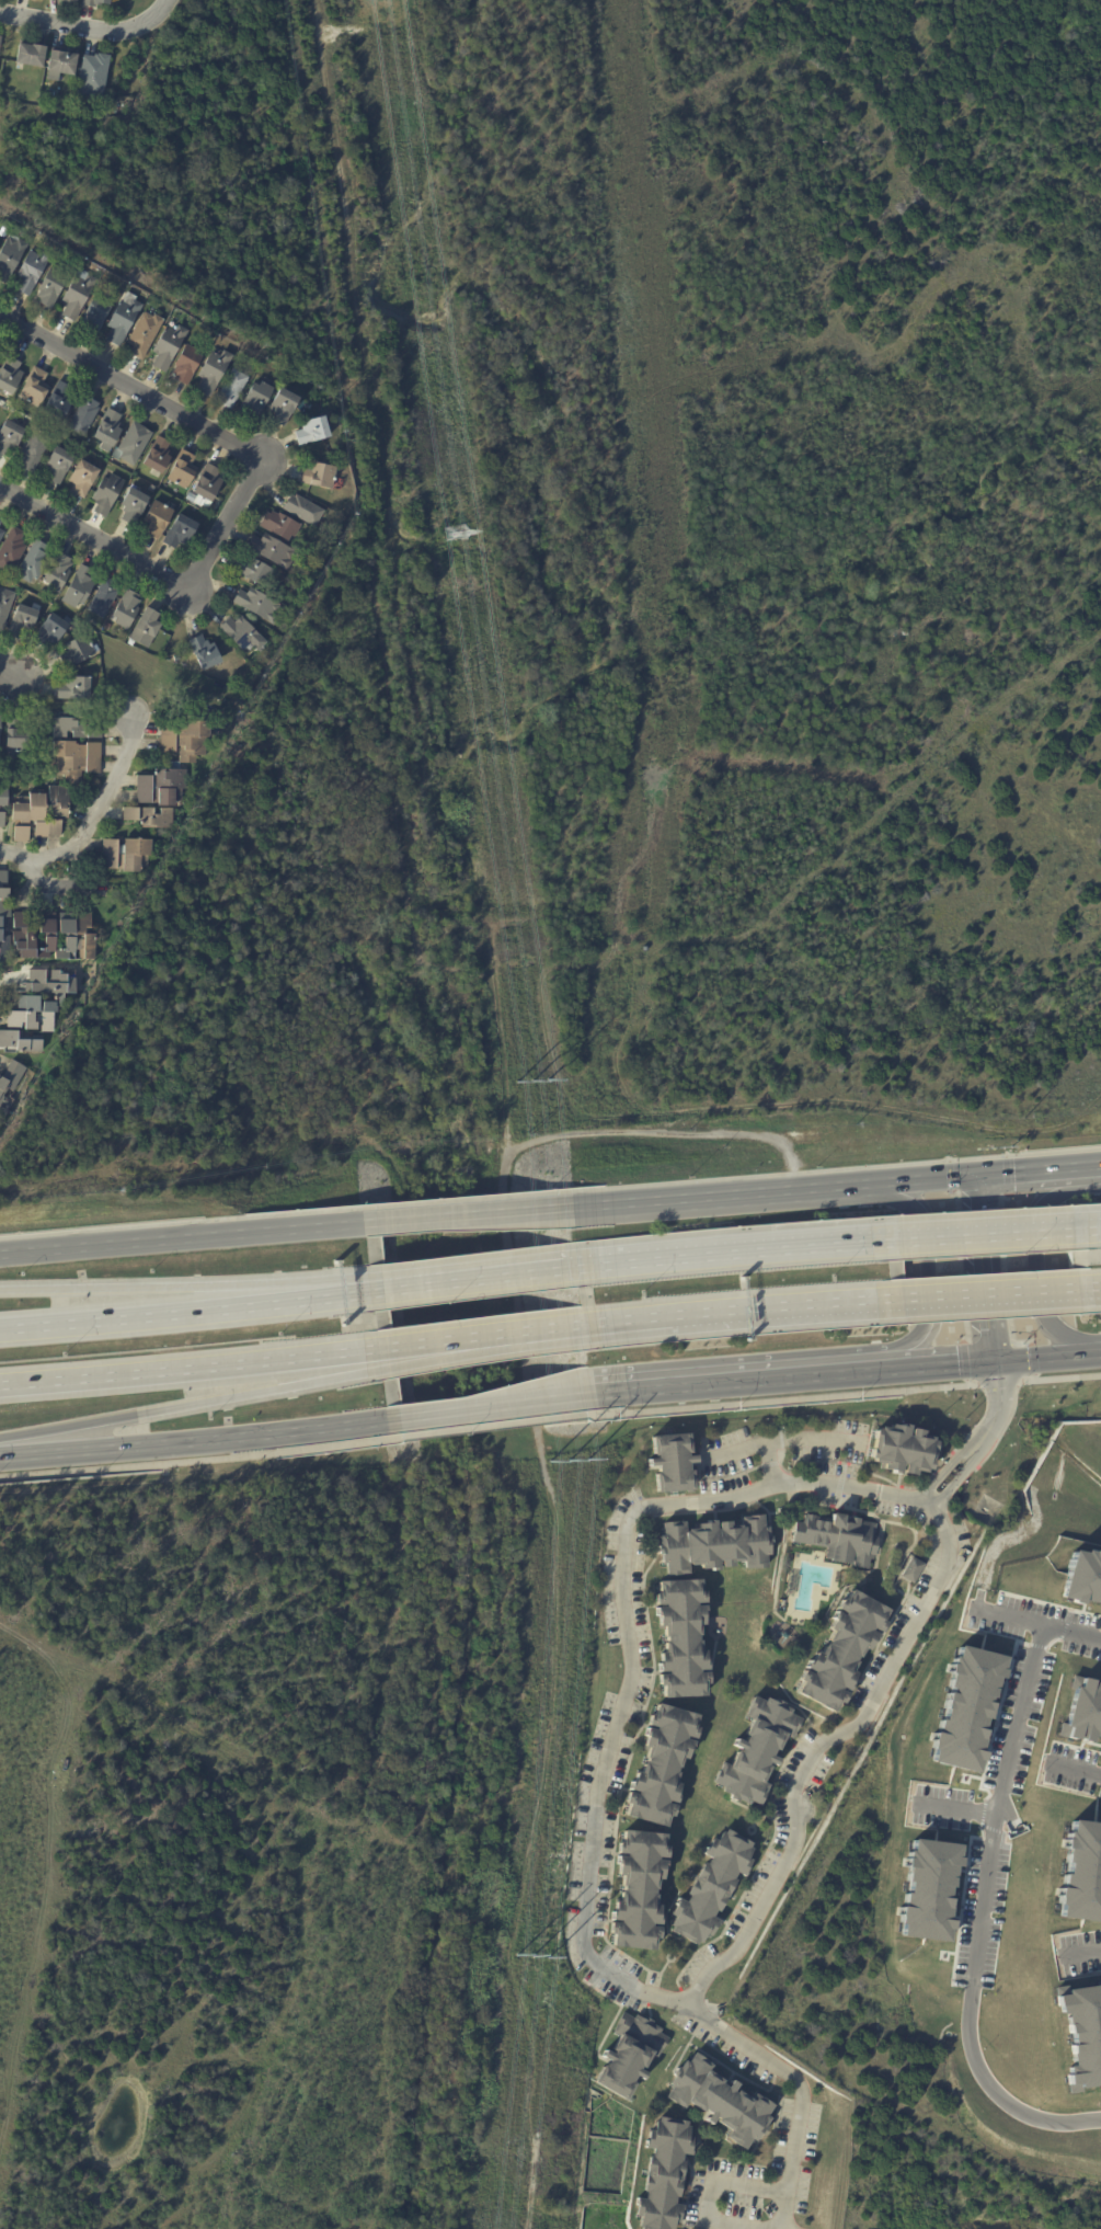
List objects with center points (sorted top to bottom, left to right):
building: (69, 1)
building: (94, 2)
road: (90, 31)
building: (0, 37)
building: (0, 39)
building: (28, 56)
building: (61, 62)
building: (93, 75)
building: (111, 99)
building: (100, 108)
building: (87, 111)
building: (10, 256)
building: (32, 270)
building: (50, 287)
building: (78, 294)
building: (95, 313)
building: (124, 318)
building: (144, 333)
building: (168, 346)
building: (185, 363)
building: (214, 369)
building: (9, 375)
road: (134, 386)
building: (33, 387)
building: (231, 388)
building: (296, 389)
building: (256, 399)
building: (57, 400)
building: (283, 405)
building: (83, 415)
building: (107, 427)
building: (312, 431)
building: (9, 437)
building: (134, 443)
building: (34, 449)
building: (158, 456)
building: (58, 465)
building: (182, 470)
building: (319, 476)
building: (82, 478)
building: (205, 488)
building: (106, 494)
building: (323, 502)
building: (131, 505)
building: (302, 510)
building: (157, 518)
building: (0, 521)
building: (279, 525)
building: (179, 531)
building: (1, 534)
power tower: (459, 535)
building: (11, 548)
building: (272, 551)
building: (33, 562)
building: (253, 571)
building: (56, 573)
road: (162, 576)
building: (78, 587)
building: (103, 597)
building: (5, 605)
building: (257, 605)
building: (126, 609)
building: (21, 621)
building: (106, 627)
building: (145, 628)
building: (50, 630)
building: (242, 635)
building: (77, 652)
building: (204, 653)
road: (11, 668)
building: (73, 689)
building: (101, 696)
building: (0, 725)
building: (77, 728)
building: (16, 740)
building: (184, 741)
building: (76, 761)
building: (161, 789)
building: (3, 799)
building: (59, 801)
road: (95, 815)
building: (26, 816)
building: (149, 818)
building: (1, 820)
building: (47, 830)
building: (125, 855)
road: (57, 882)
building: (43, 933)
building: (36, 1010)
power tower: (535, 1079)
building: (9, 1088)
road: (1100, 1164)
road: (1042, 1169)
traffic signals: (985, 1174)
road: (932, 1178)
road: (784, 1191)
road: (629, 1205)
road: (471, 1216)
road: (1082, 1223)
road: (985, 1230)
road: (187, 1238)
road: (734, 1250)
road: (1044, 1257)
road: (990, 1267)
road: (926, 1269)
road: (475, 1277)
road: (192, 1288)
road: (1087, 1289)
road: (989, 1294)
road: (192, 1305)
road: (787, 1311)
road: (624, 1325)
road: (481, 1339)
road: (1100, 1351)
road: (434, 1354)
road: (1047, 1357)
traffic signals: (997, 1361)
road: (949, 1364)
road: (191, 1365)
road: (743, 1381)
road: (845, 1391)
road: (183, 1404)
road: (491, 1407)
road: (995, 1420)
road: (494, 1424)
road: (199, 1439)
road: (783, 1441)
building: (904, 1450)
road: (199, 1459)
power tower: (571, 1459)
building: (673, 1463)
road: (773, 1463)
road: (944, 1485)
building: (840, 1539)
building: (716, 1545)
building: (911, 1568)
building: (1082, 1578)
road: (1023, 1625)
building: (681, 1638)
building: (842, 1650)
road: (216, 1655)
road: (28, 1700)
building: (965, 1707)
building: (1081, 1711)
road: (817, 1748)
building: (756, 1751)
road: (610, 1759)
building: (662, 1768)
road: (1093, 1778)
road: (121, 1796)
road: (967, 1816)
building: (1081, 1872)
building: (710, 1888)
building: (928, 1889)
building: (639, 1893)
road: (990, 1893)
road: (78, 1948)
power tower: (535, 1957)
road: (1090, 1959)
road: (3, 2015)
building: (1082, 2034)
building: (630, 2055)
building: (720, 2102)
building: (665, 2173)
road: (718, 2181)
road: (784, 2210)

